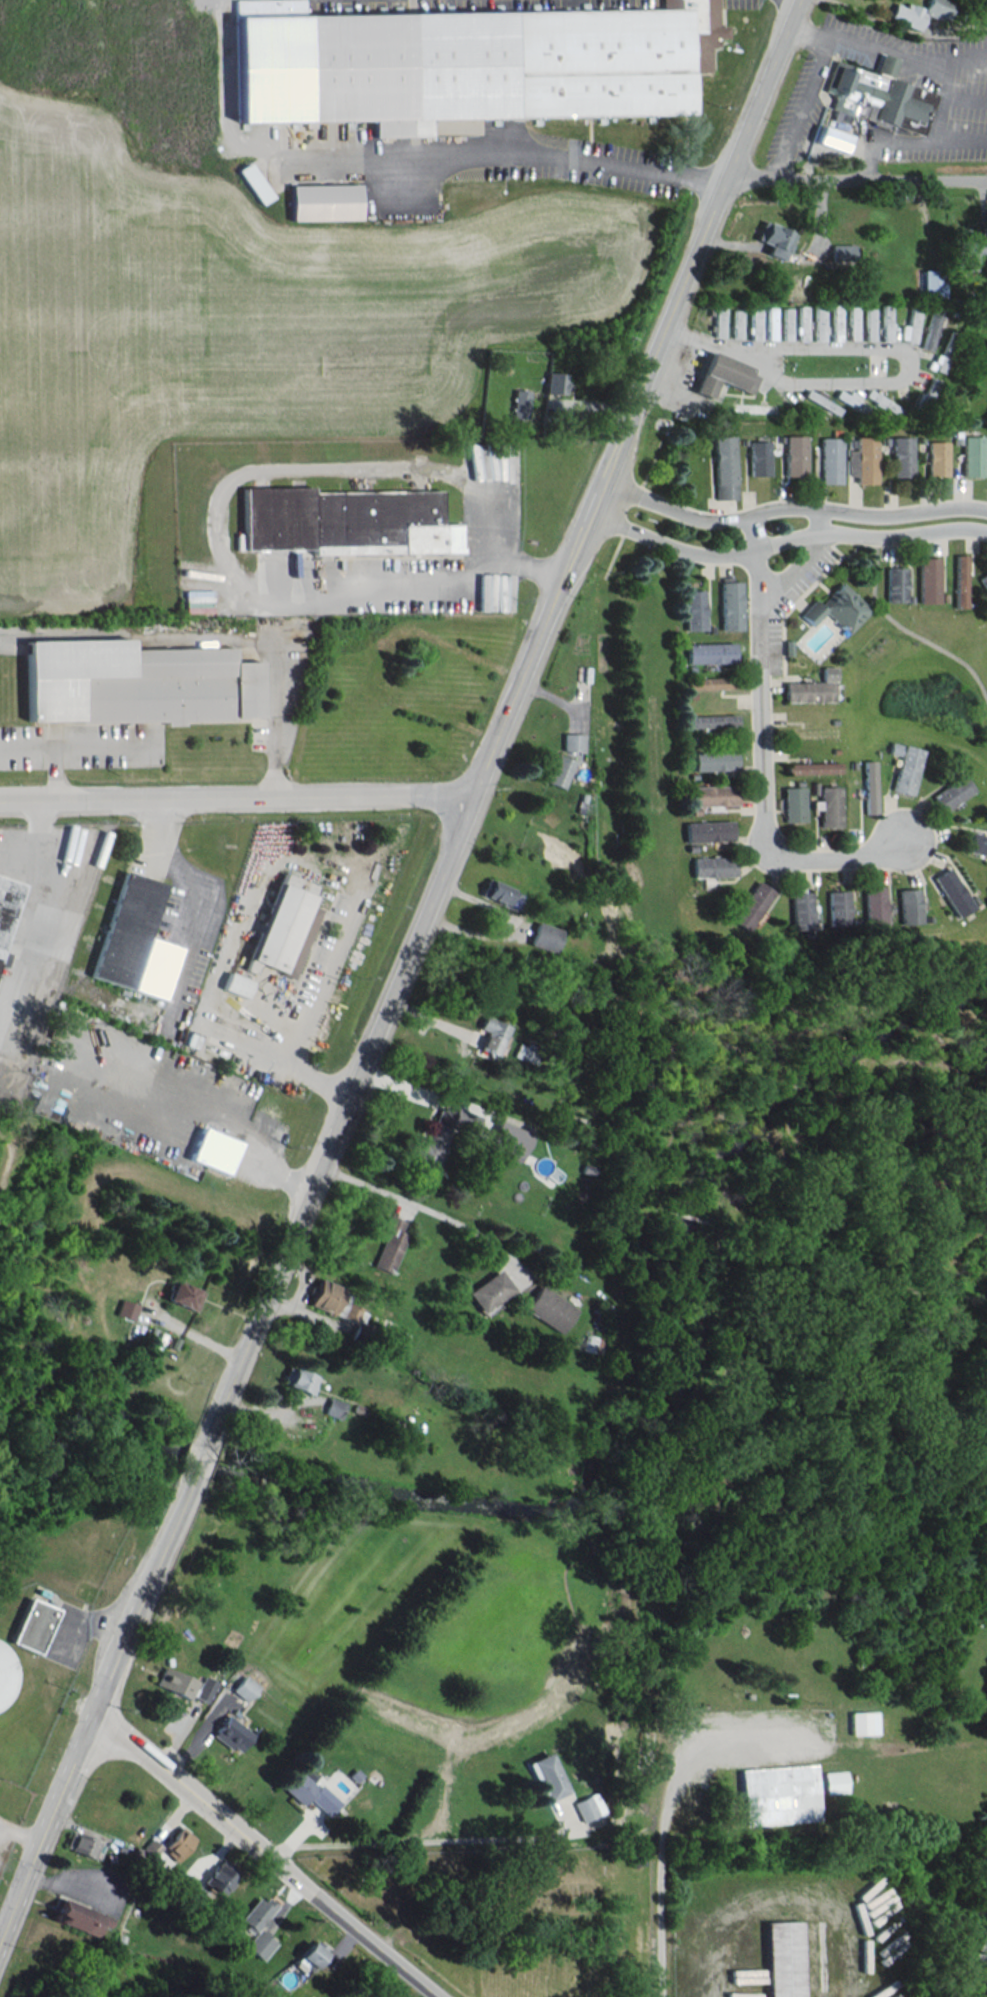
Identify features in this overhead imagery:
building: (919, 12)
building: (466, 64)
building: (884, 64)
road: (944, 71)
building: (873, 96)
road: (798, 109)
building: (830, 138)
road: (408, 153)
road: (855, 179)
building: (323, 202)
building: (774, 239)
building: (969, 247)
building: (842, 253)
building: (932, 282)
building: (719, 320)
building: (755, 322)
building: (802, 322)
building: (836, 322)
building: (852, 322)
building: (886, 322)
building: (737, 323)
building: (771, 323)
building: (787, 323)
building: (819, 324)
building: (869, 324)
building: (910, 327)
building: (930, 328)
road: (878, 350)
building: (724, 375)
building: (555, 383)
building: (846, 397)
building: (822, 401)
building: (881, 402)
building: (520, 404)
building: (794, 455)
building: (901, 456)
building: (971, 456)
building: (758, 458)
building: (936, 458)
building: (829, 460)
building: (862, 460)
building: (724, 467)
road: (790, 507)
building: (343, 521)
road: (784, 540)
road: (210, 541)
building: (928, 580)
building: (959, 580)
building: (984, 581)
building: (895, 584)
building: (480, 592)
building: (730, 604)
building: (837, 608)
building: (694, 610)
road: (215, 637)
building: (710, 652)
building: (134, 682)
building: (708, 683)
building: (812, 688)
building: (712, 721)
road: (501, 725)
building: (572, 741)
road: (75, 745)
road: (762, 750)
building: (714, 760)
building: (905, 767)
building: (812, 768)
building: (559, 771)
road: (53, 773)
building: (868, 787)
building: (952, 792)
building: (713, 795)
road: (236, 798)
building: (793, 804)
building: (828, 806)
building: (708, 831)
building: (977, 844)
building: (713, 867)
building: (495, 892)
building: (950, 892)
road: (198, 898)
building: (7, 904)
building: (751, 905)
building: (871, 905)
building: (906, 906)
building: (836, 907)
building: (801, 911)
building: (278, 935)
building: (544, 936)
building: (133, 942)
building: (492, 1035)
building: (524, 1053)
building: (441, 1139)
building: (510, 1140)
building: (213, 1150)
road: (415, 1205)
building: (390, 1244)
building: (490, 1291)
building: (183, 1295)
building: (336, 1301)
building: (127, 1309)
building: (549, 1309)
building: (301, 1381)
building: (334, 1407)
road: (200, 1461)
building: (32, 1625)
road: (112, 1668)
building: (4, 1674)
building: (175, 1682)
building: (205, 1687)
building: (243, 1687)
building: (858, 1723)
building: (234, 1732)
building: (354, 1774)
building: (551, 1775)
building: (835, 1780)
road: (185, 1785)
building: (307, 1789)
building: (779, 1793)
building: (585, 1807)
road: (666, 1808)
road: (20, 1835)
road: (414, 1841)
building: (179, 1843)
building: (158, 1855)
building: (637, 1857)
building: (220, 1878)
building: (185, 1884)
road: (15, 1904)
building: (256, 1914)
park: (504, 1916)
building: (79, 1917)
road: (357, 1927)
building: (260, 1944)
building: (864, 1955)
building: (311, 1956)
building: (783, 1958)
road: (978, 1977)

